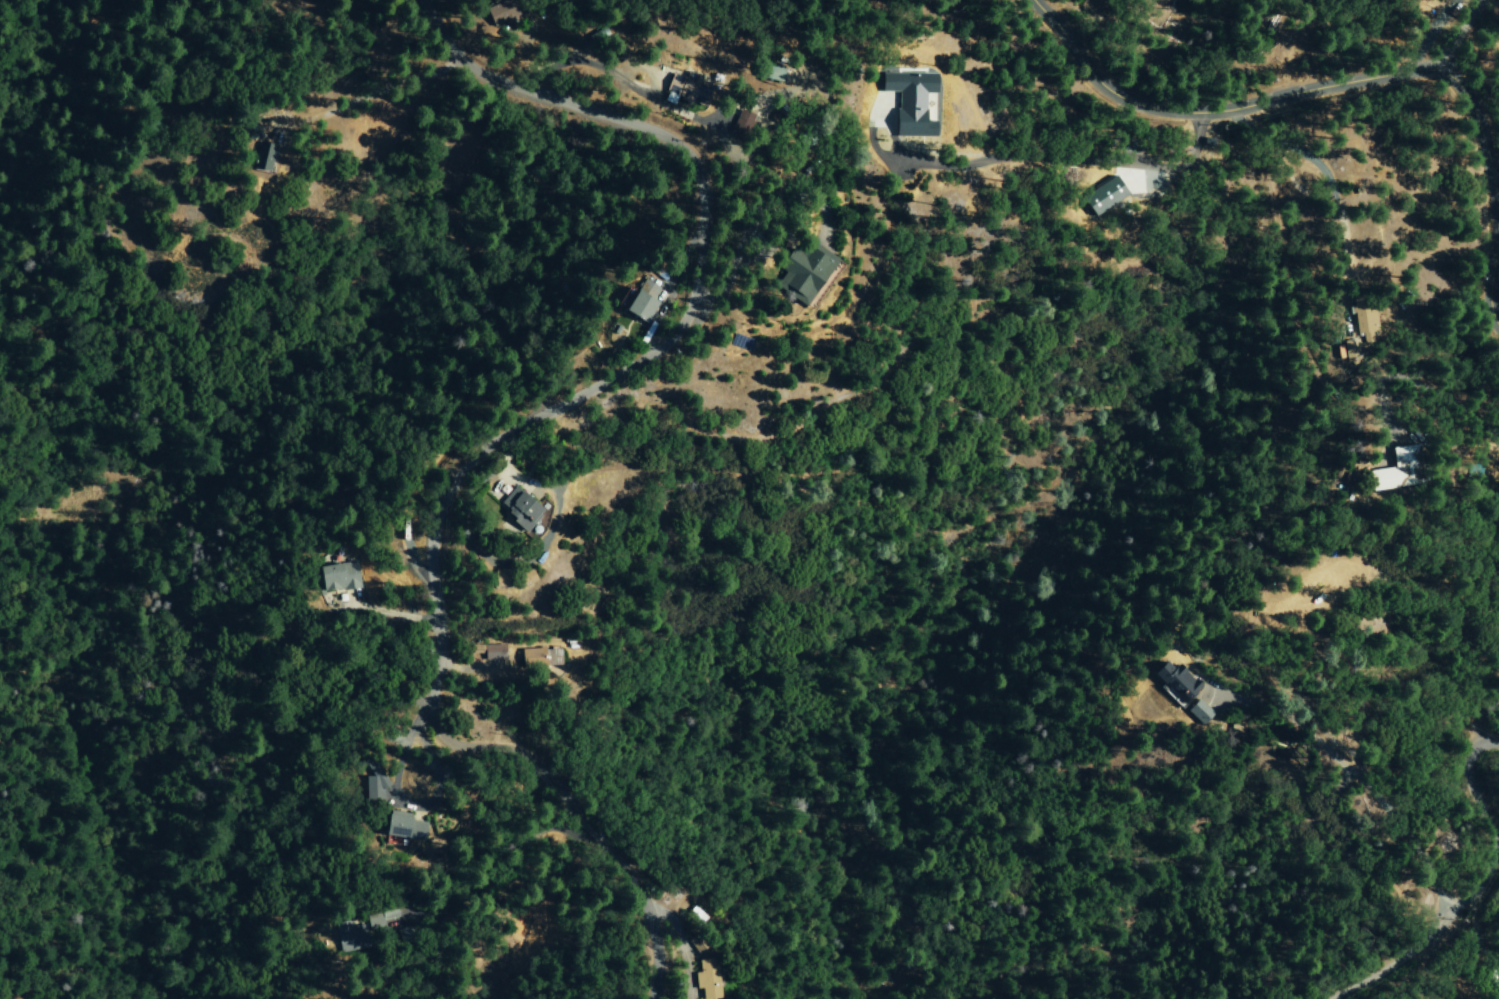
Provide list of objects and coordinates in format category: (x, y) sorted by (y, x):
building: (501, 12)
road: (1459, 34)
building: (767, 73)
road: (1346, 85)
building: (682, 90)
road: (364, 94)
building: (911, 102)
building: (738, 126)
building: (263, 157)
building: (1103, 196)
building: (801, 272)
road: (1332, 296)
building: (640, 301)
building: (1365, 325)
road: (502, 438)
building: (1398, 471)
building: (519, 509)
building: (339, 577)
building: (478, 649)
building: (494, 652)
building: (540, 659)
building: (1176, 684)
building: (1199, 712)
road: (1361, 784)
road: (1472, 788)
building: (375, 789)
building: (404, 827)
building: (376, 923)
building: (350, 937)
road: (1432, 941)
building: (708, 978)

